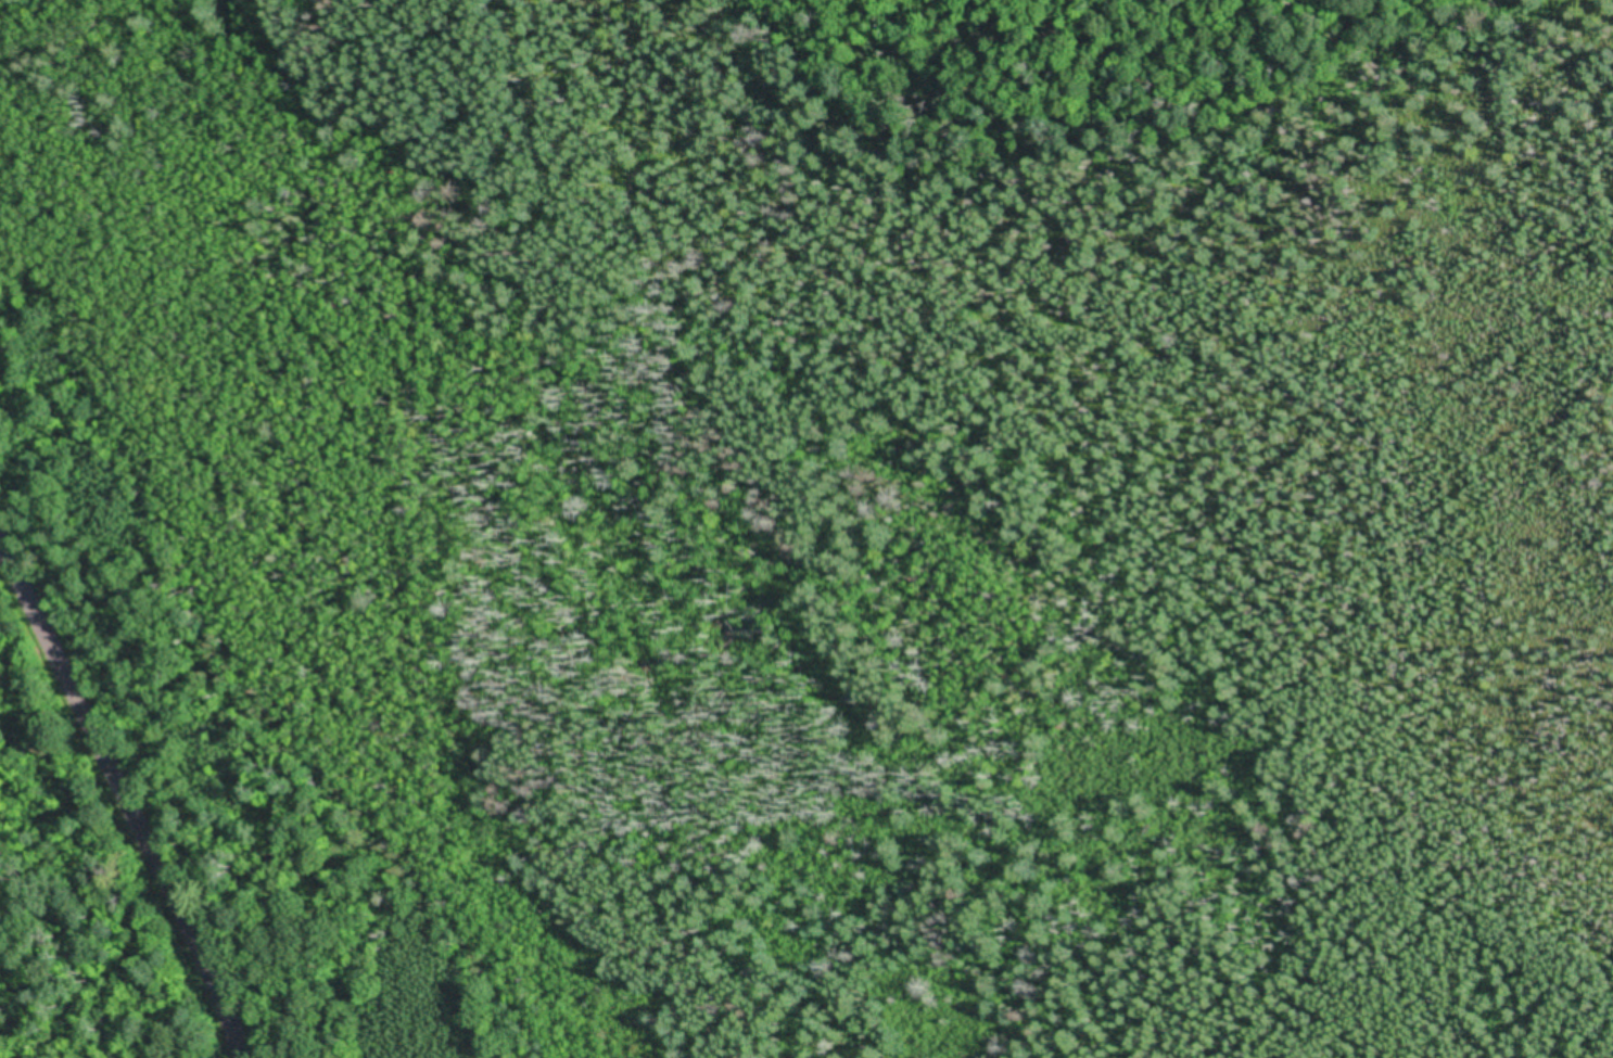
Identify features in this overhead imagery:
road: (144, 764)

